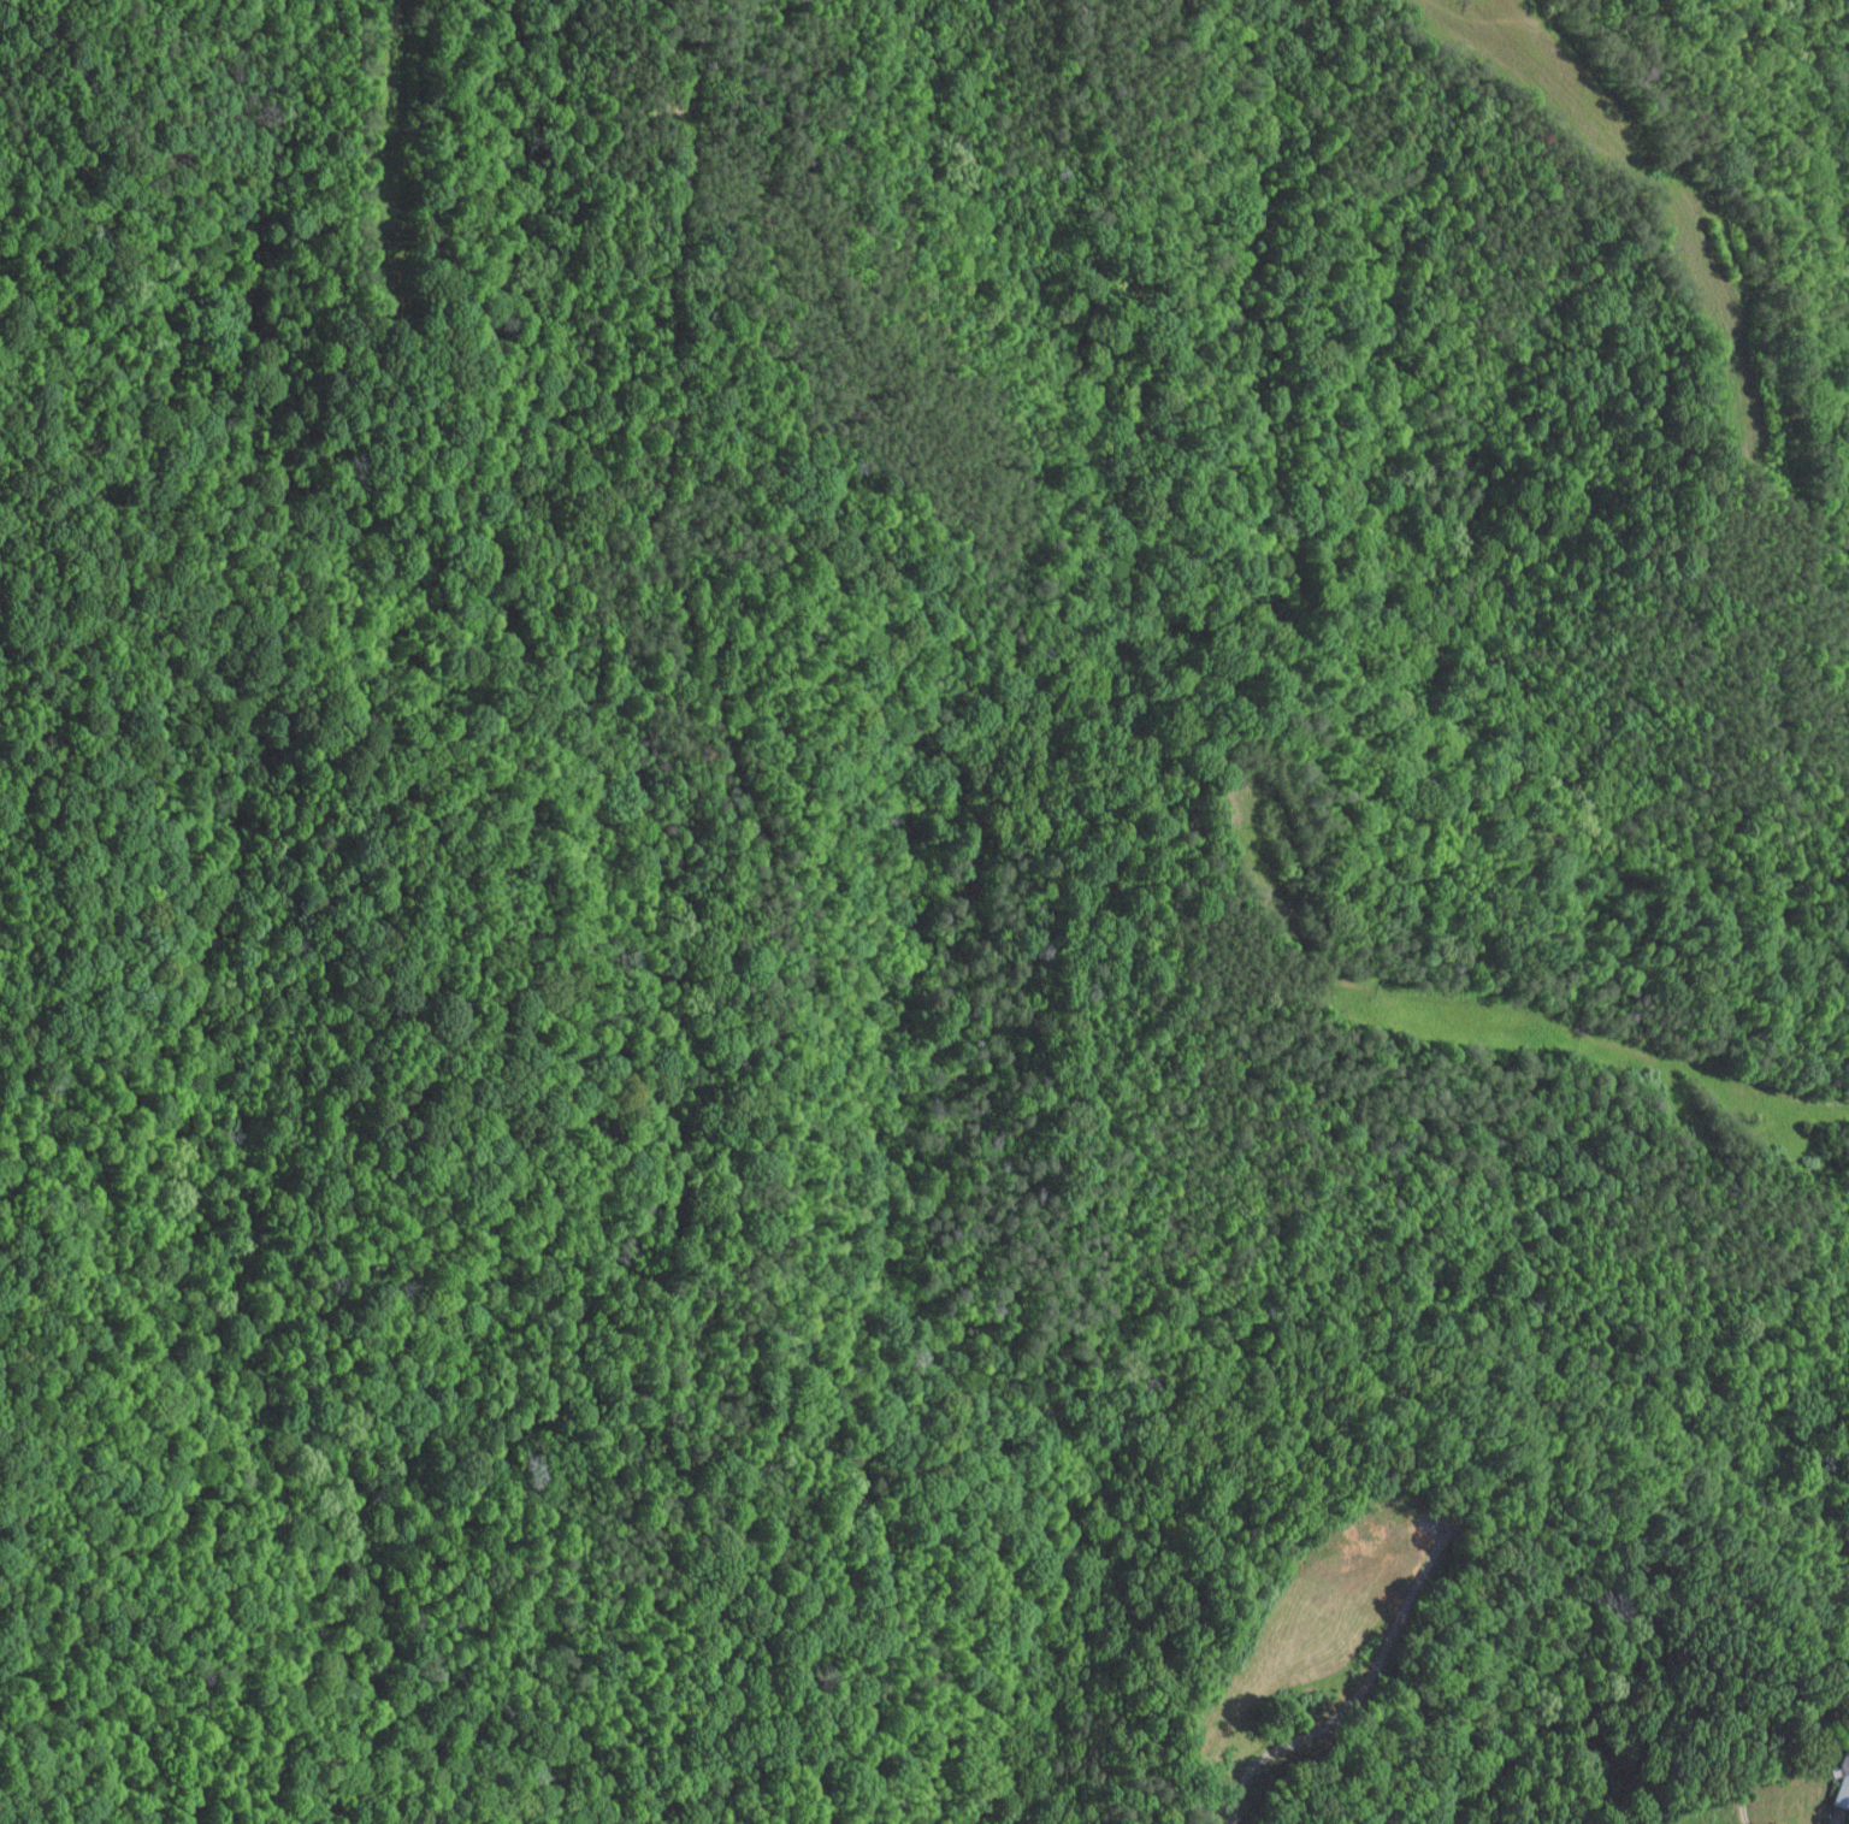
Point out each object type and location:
building: (1830, 1783)

